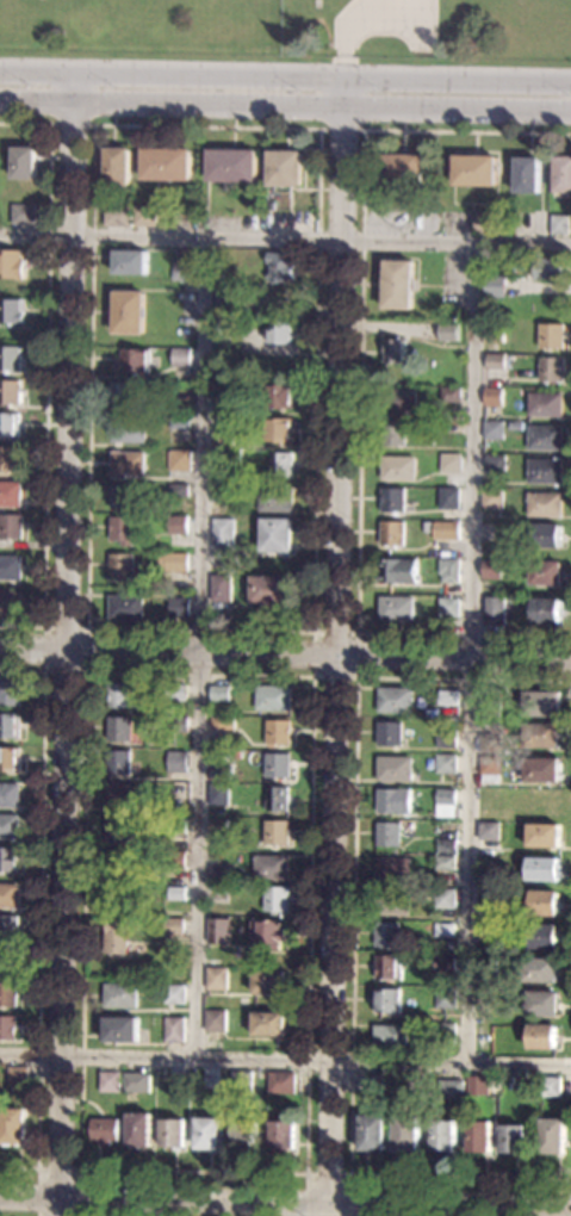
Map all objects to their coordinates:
road: (285, 72)
road: (285, 106)
road: (70, 125)
road: (93, 126)
road: (341, 130)
building: (23, 162)
building: (166, 165)
building: (231, 166)
building: (116, 167)
building: (285, 168)
building: (403, 170)
building: (474, 170)
building: (527, 174)
building: (563, 175)
building: (269, 205)
building: (201, 210)
building: (20, 213)
building: (144, 216)
building: (117, 217)
building: (491, 222)
building: (522, 223)
building: (559, 224)
road: (285, 238)
building: (130, 262)
building: (11, 265)
building: (279, 266)
building: (181, 268)
building: (550, 268)
building: (218, 275)
building: (398, 285)
building: (496, 286)
building: (224, 304)
building: (11, 311)
building: (126, 312)
building: (279, 331)
building: (447, 333)
building: (494, 333)
building: (182, 335)
building: (552, 336)
building: (223, 337)
building: (395, 350)
building: (8, 358)
building: (180, 358)
building: (131, 362)
building: (495, 362)
building: (552, 370)
road: (45, 372)
road: (360, 387)
building: (8, 392)
building: (129, 393)
building: (449, 393)
building: (279, 396)
building: (492, 397)
building: (398, 401)
building: (223, 403)
building: (545, 404)
building: (179, 422)
building: (7, 426)
building: (517, 426)
building: (126, 429)
building: (492, 430)
building: (279, 432)
building: (392, 433)
building: (221, 436)
building: (545, 438)
building: (429, 440)
building: (7, 459)
building: (178, 460)
building: (495, 461)
building: (449, 463)
building: (126, 464)
building: (279, 465)
building: (397, 469)
building: (545, 471)
building: (176, 490)
building: (219, 492)
building: (432, 492)
building: (10, 494)
building: (126, 497)
building: (448, 498)
building: (491, 498)
building: (274, 501)
building: (391, 501)
building: (545, 504)
building: (176, 522)
building: (10, 527)
building: (426, 527)
building: (120, 528)
building: (445, 529)
building: (222, 533)
building: (391, 534)
building: (275, 535)
building: (546, 536)
building: (172, 562)
building: (10, 567)
building: (120, 567)
building: (491, 569)
building: (397, 571)
building: (447, 571)
building: (545, 572)
building: (219, 588)
building: (269, 590)
building: (176, 594)
building: (10, 603)
building: (124, 607)
building: (178, 608)
building: (395, 608)
building: (447, 608)
building: (492, 609)
building: (545, 610)
road: (43, 629)
road: (356, 635)
road: (66, 643)
road: (337, 643)
road: (200, 646)
road: (470, 652)
road: (285, 657)
road: (86, 674)
building: (174, 691)
building: (218, 693)
building: (8, 694)
building: (123, 695)
building: (272, 697)
building: (446, 697)
building: (393, 700)
building: (541, 703)
building: (489, 709)
building: (221, 722)
building: (175, 724)
building: (8, 726)
building: (118, 728)
building: (277, 732)
building: (389, 734)
building: (540, 736)
building: (445, 738)
building: (489, 743)
building: (216, 744)
building: (240, 755)
building: (8, 759)
building: (118, 762)
building: (175, 762)
building: (445, 764)
building: (277, 765)
building: (393, 768)
building: (488, 769)
building: (540, 769)
building: (218, 775)
building: (8, 795)
building: (217, 795)
building: (443, 796)
building: (123, 798)
building: (275, 799)
building: (488, 799)
building: (392, 801)
building: (541, 802)
building: (174, 825)
building: (7, 826)
building: (217, 827)
building: (118, 829)
building: (486, 831)
building: (275, 832)
building: (387, 833)
building: (541, 835)
building: (445, 845)
building: (7, 860)
building: (175, 861)
building: (117, 862)
building: (443, 863)
building: (269, 867)
building: (392, 868)
building: (540, 869)
building: (217, 875)
building: (174, 892)
building: (7, 895)
building: (118, 897)
building: (274, 898)
building: (442, 899)
building: (486, 900)
building: (392, 902)
building: (541, 902)
road: (38, 917)
building: (172, 926)
building: (7, 927)
road: (353, 929)
building: (442, 929)
building: (217, 930)
building: (268, 935)
building: (386, 935)
building: (116, 936)
building: (541, 936)
building: (7, 961)
building: (442, 962)
building: (485, 966)
building: (386, 967)
building: (538, 969)
building: (215, 979)
building: (267, 982)
building: (6, 994)
building: (173, 994)
building: (119, 995)
building: (443, 998)
building: (386, 1000)
building: (540, 1003)
building: (213, 1020)
building: (267, 1024)
building: (6, 1028)
building: (120, 1029)
building: (172, 1029)
building: (442, 1032)
building: (390, 1036)
building: (540, 1037)
road: (285, 1060)
building: (15, 1075)
building: (107, 1081)
building: (240, 1081)
building: (376, 1081)
building: (135, 1082)
building: (280, 1082)
building: (476, 1085)
building: (547, 1086)
building: (448, 1090)
building: (11, 1125)
building: (104, 1130)
building: (137, 1130)
building: (170, 1133)
building: (372, 1133)
building: (405, 1133)
building: (206, 1134)
building: (283, 1135)
building: (442, 1135)
building: (242, 1136)
building: (478, 1136)
building: (551, 1136)
building: (513, 1139)
road: (56, 1170)
road: (348, 1175)
road: (285, 1212)
road: (165, 1214)
road: (297, 1215)

